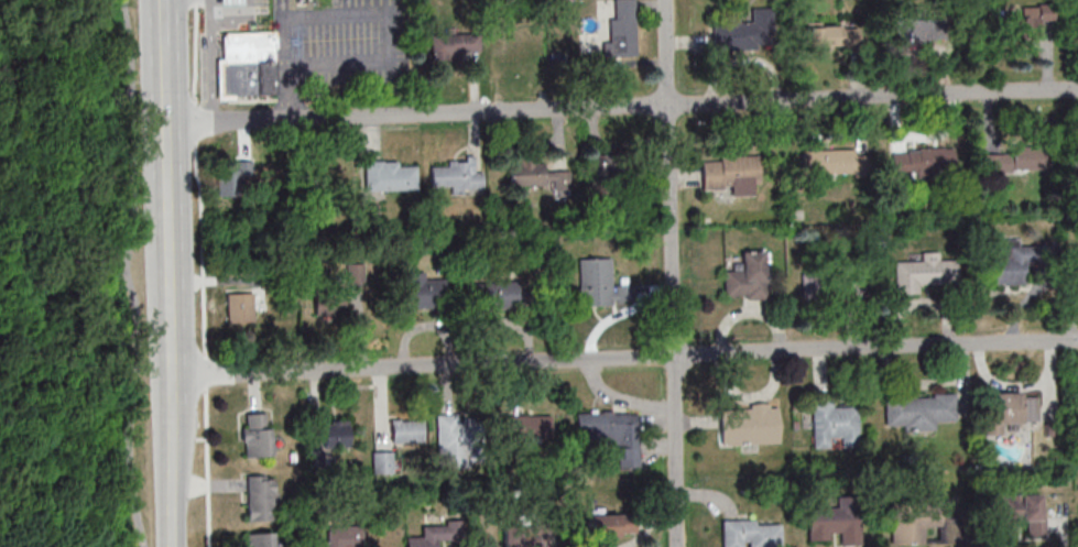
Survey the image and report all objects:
building: (228, 3)
road: (211, 11)
road: (357, 14)
road: (238, 19)
building: (1032, 21)
building: (1074, 24)
building: (623, 30)
road: (163, 31)
building: (915, 32)
building: (739, 34)
building: (832, 35)
building: (456, 45)
building: (513, 45)
road: (666, 53)
building: (247, 64)
road: (210, 72)
road: (164, 83)
road: (621, 107)
road: (164, 113)
building: (834, 161)
building: (922, 161)
building: (1010, 161)
building: (536, 174)
building: (730, 175)
building: (391, 176)
building: (458, 176)
building: (621, 177)
building: (149, 182)
road: (167, 248)
building: (1017, 261)
road: (202, 273)
building: (355, 273)
road: (128, 274)
building: (923, 274)
building: (748, 277)
building: (600, 284)
building: (421, 291)
building: (492, 296)
building: (329, 302)
building: (240, 307)
road: (674, 326)
road: (623, 358)
building: (1076, 406)
building: (916, 409)
building: (1011, 411)
building: (832, 423)
building: (750, 425)
building: (525, 427)
building: (405, 431)
building: (336, 434)
building: (612, 434)
building: (257, 435)
building: (456, 442)
road: (171, 460)
building: (382, 461)
building: (261, 497)
building: (1023, 512)
building: (912, 523)
building: (611, 525)
building: (835, 525)
building: (748, 533)
building: (437, 535)
building: (525, 536)
building: (341, 537)
building: (260, 539)

